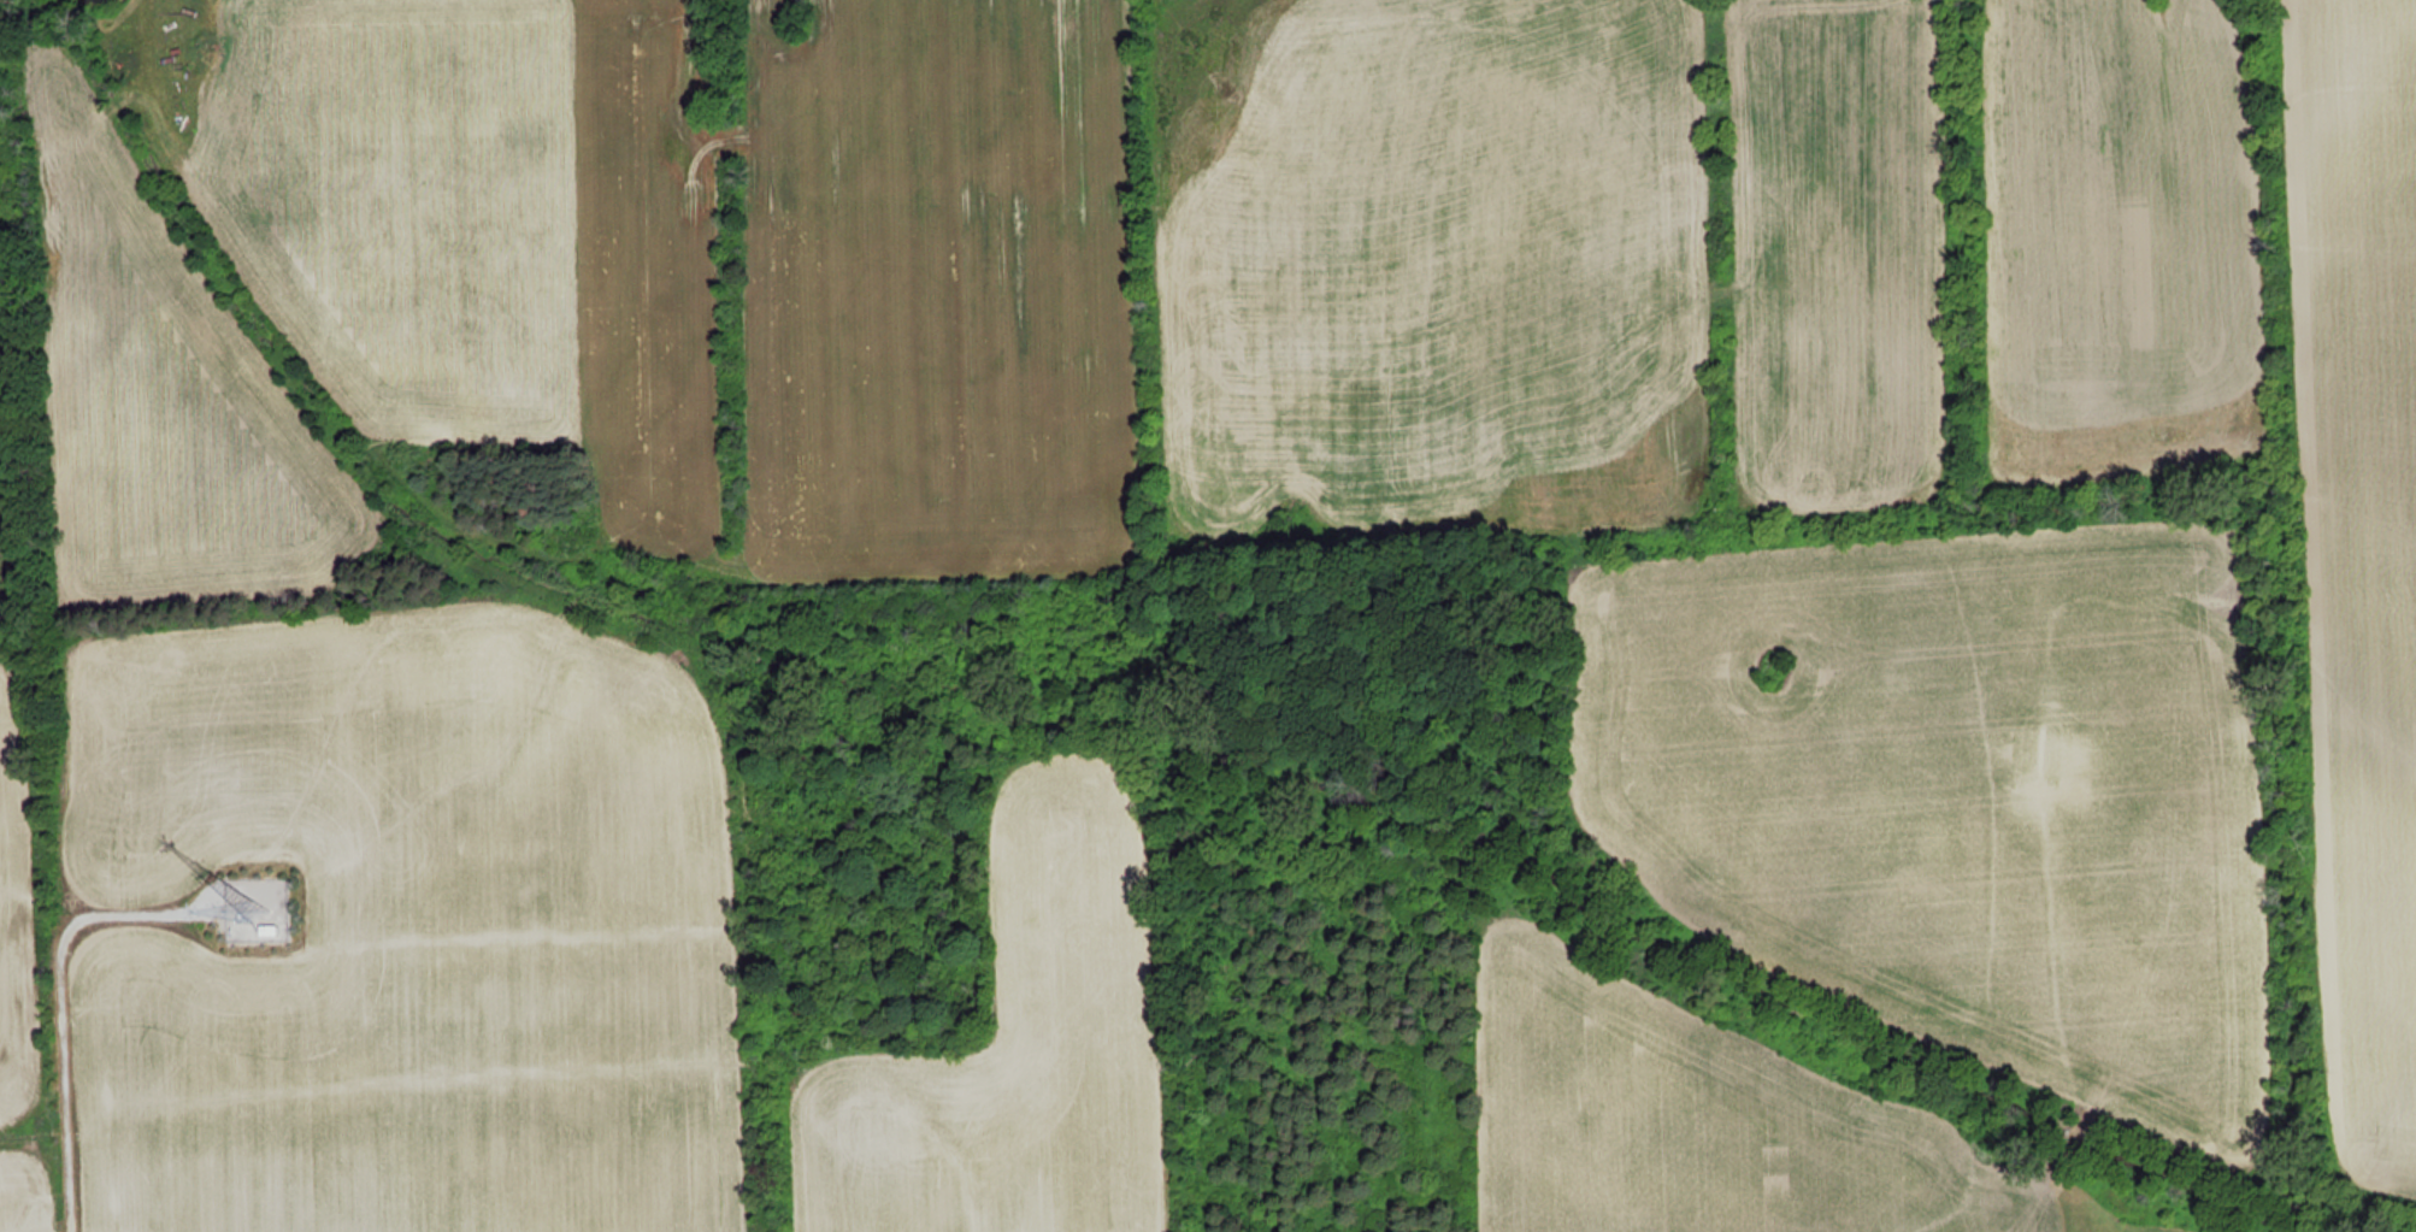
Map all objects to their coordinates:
road: (73, 1012)

